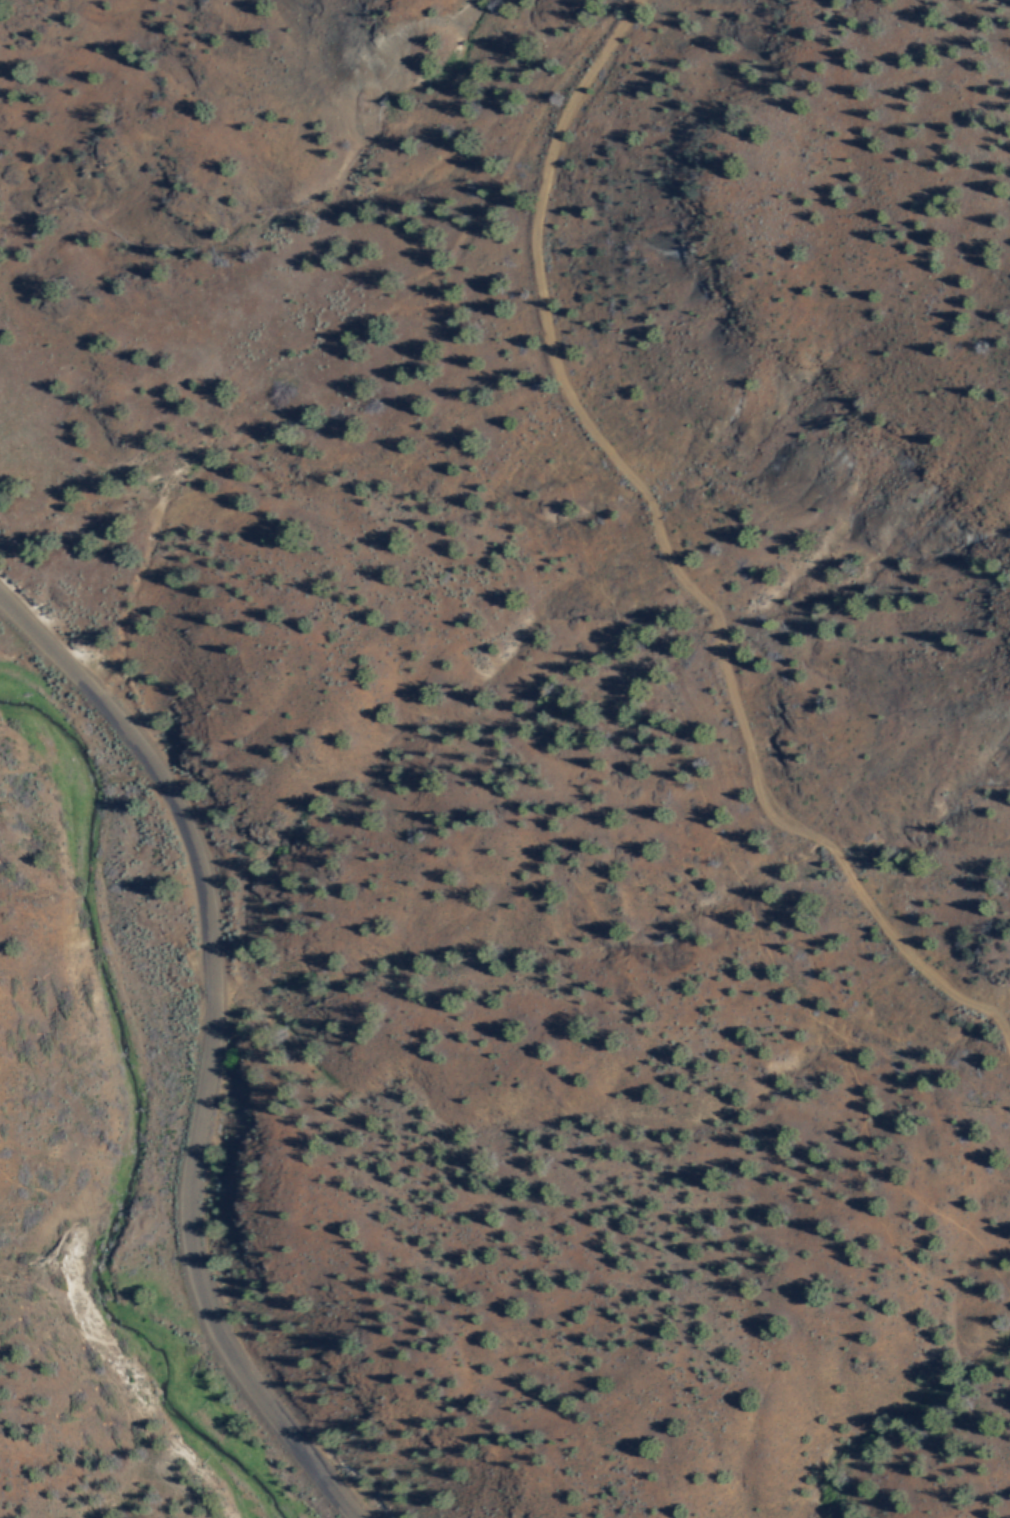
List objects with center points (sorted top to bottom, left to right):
road: (252, 1011)

